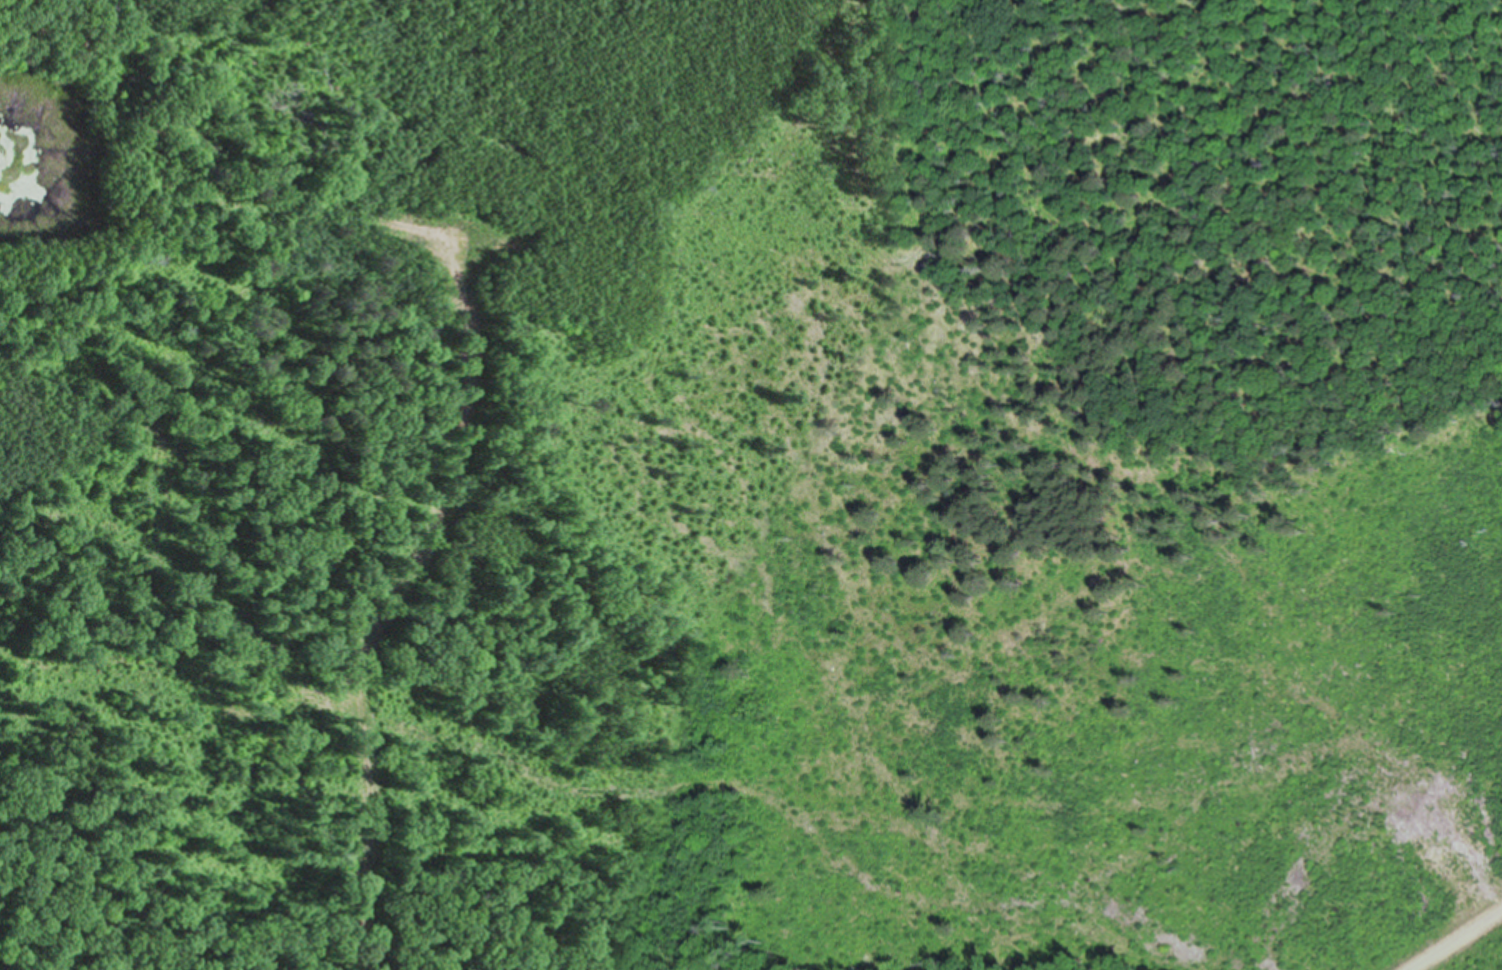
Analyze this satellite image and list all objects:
road: (1456, 940)

